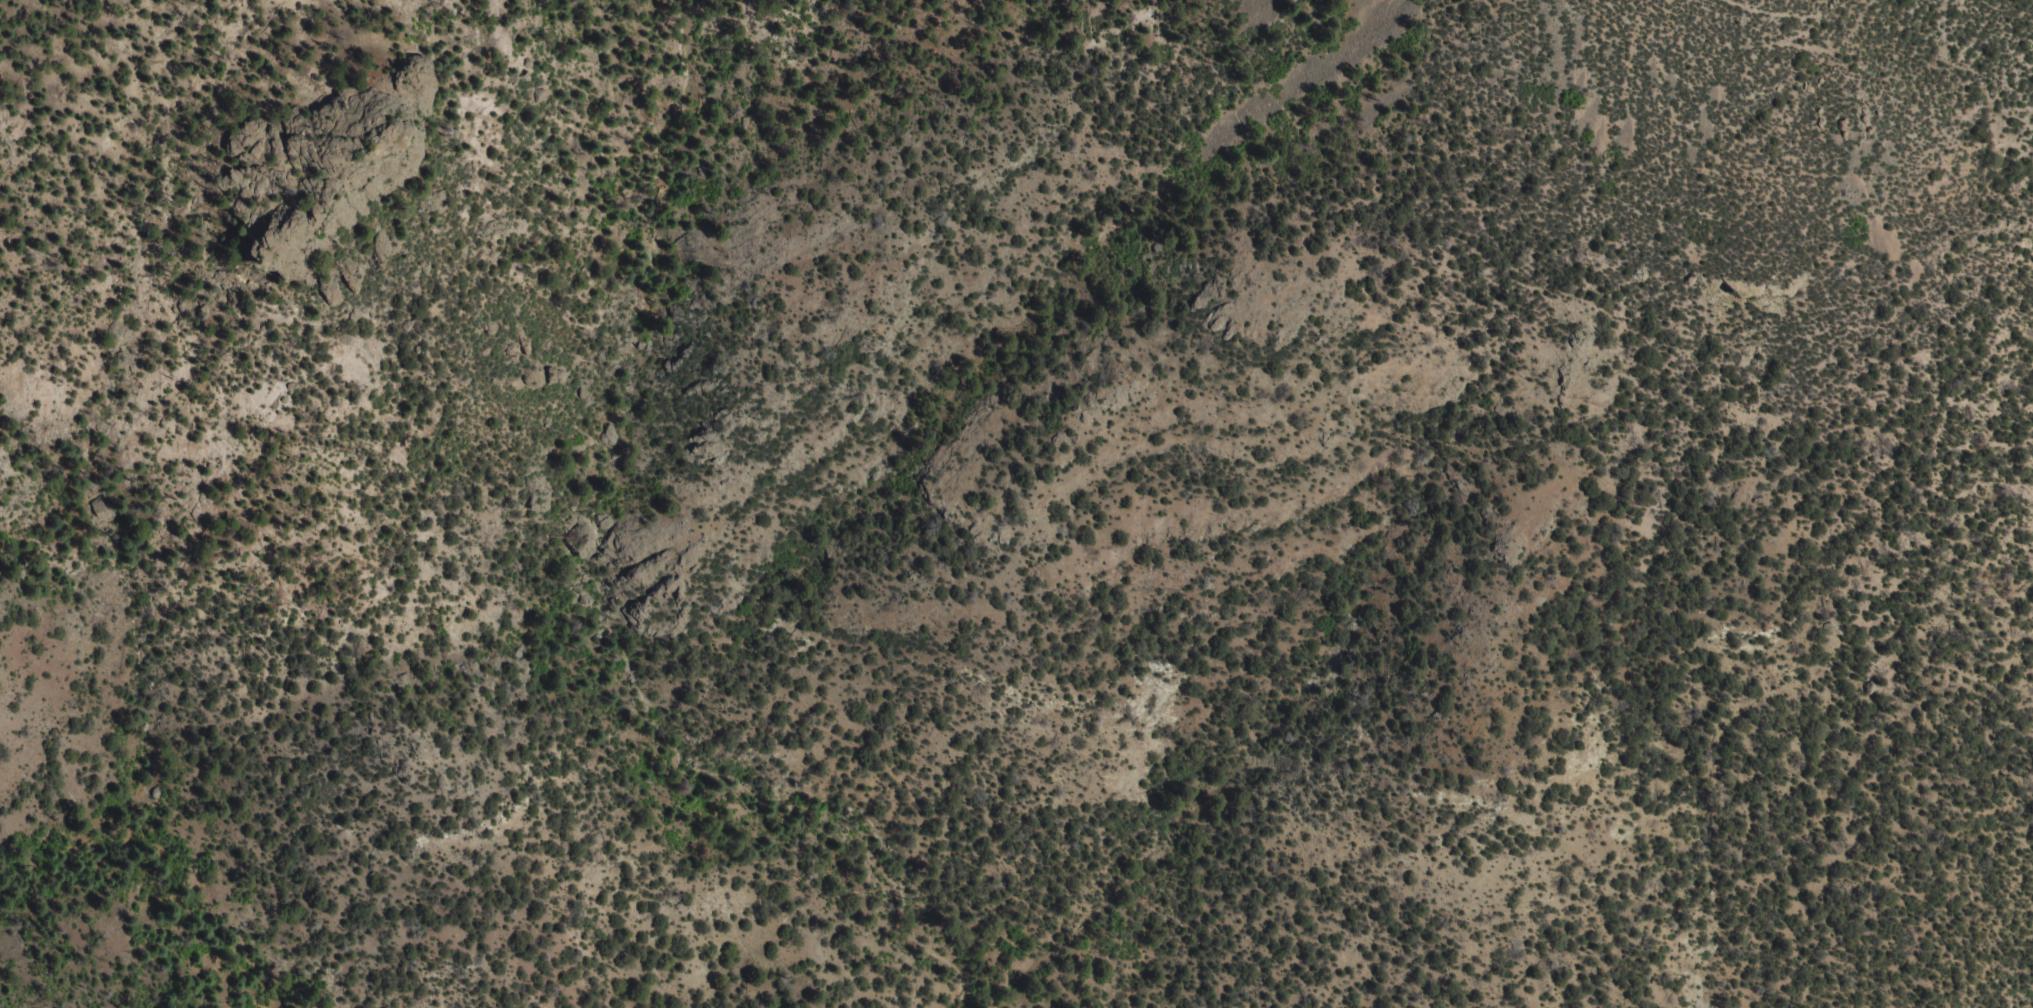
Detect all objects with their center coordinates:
road: (1785, 38)

